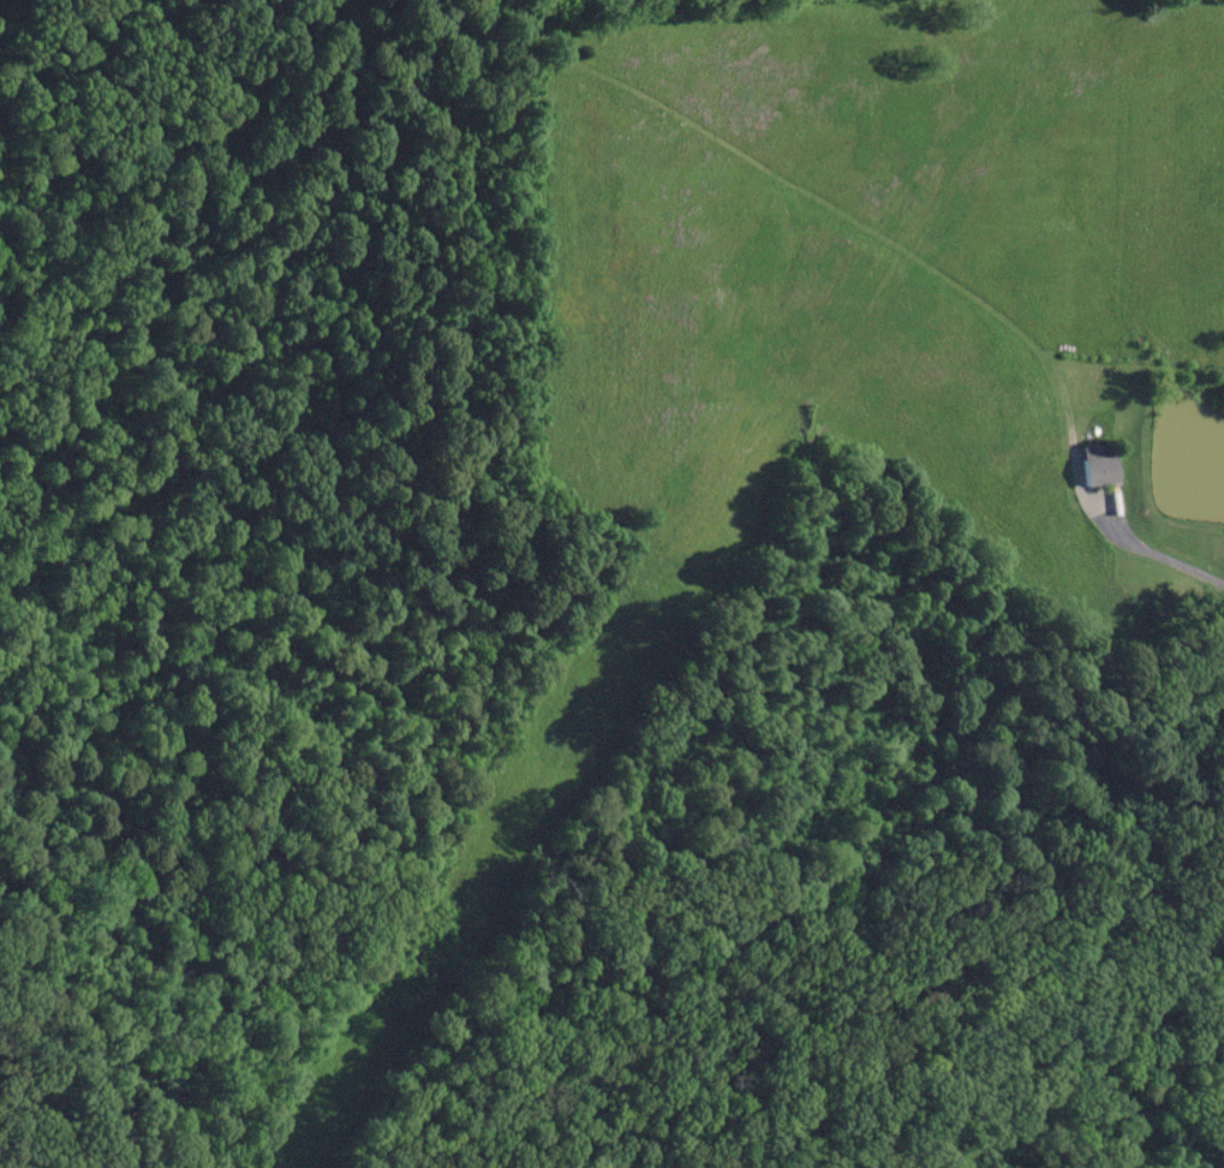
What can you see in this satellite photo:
building: (1100, 463)

